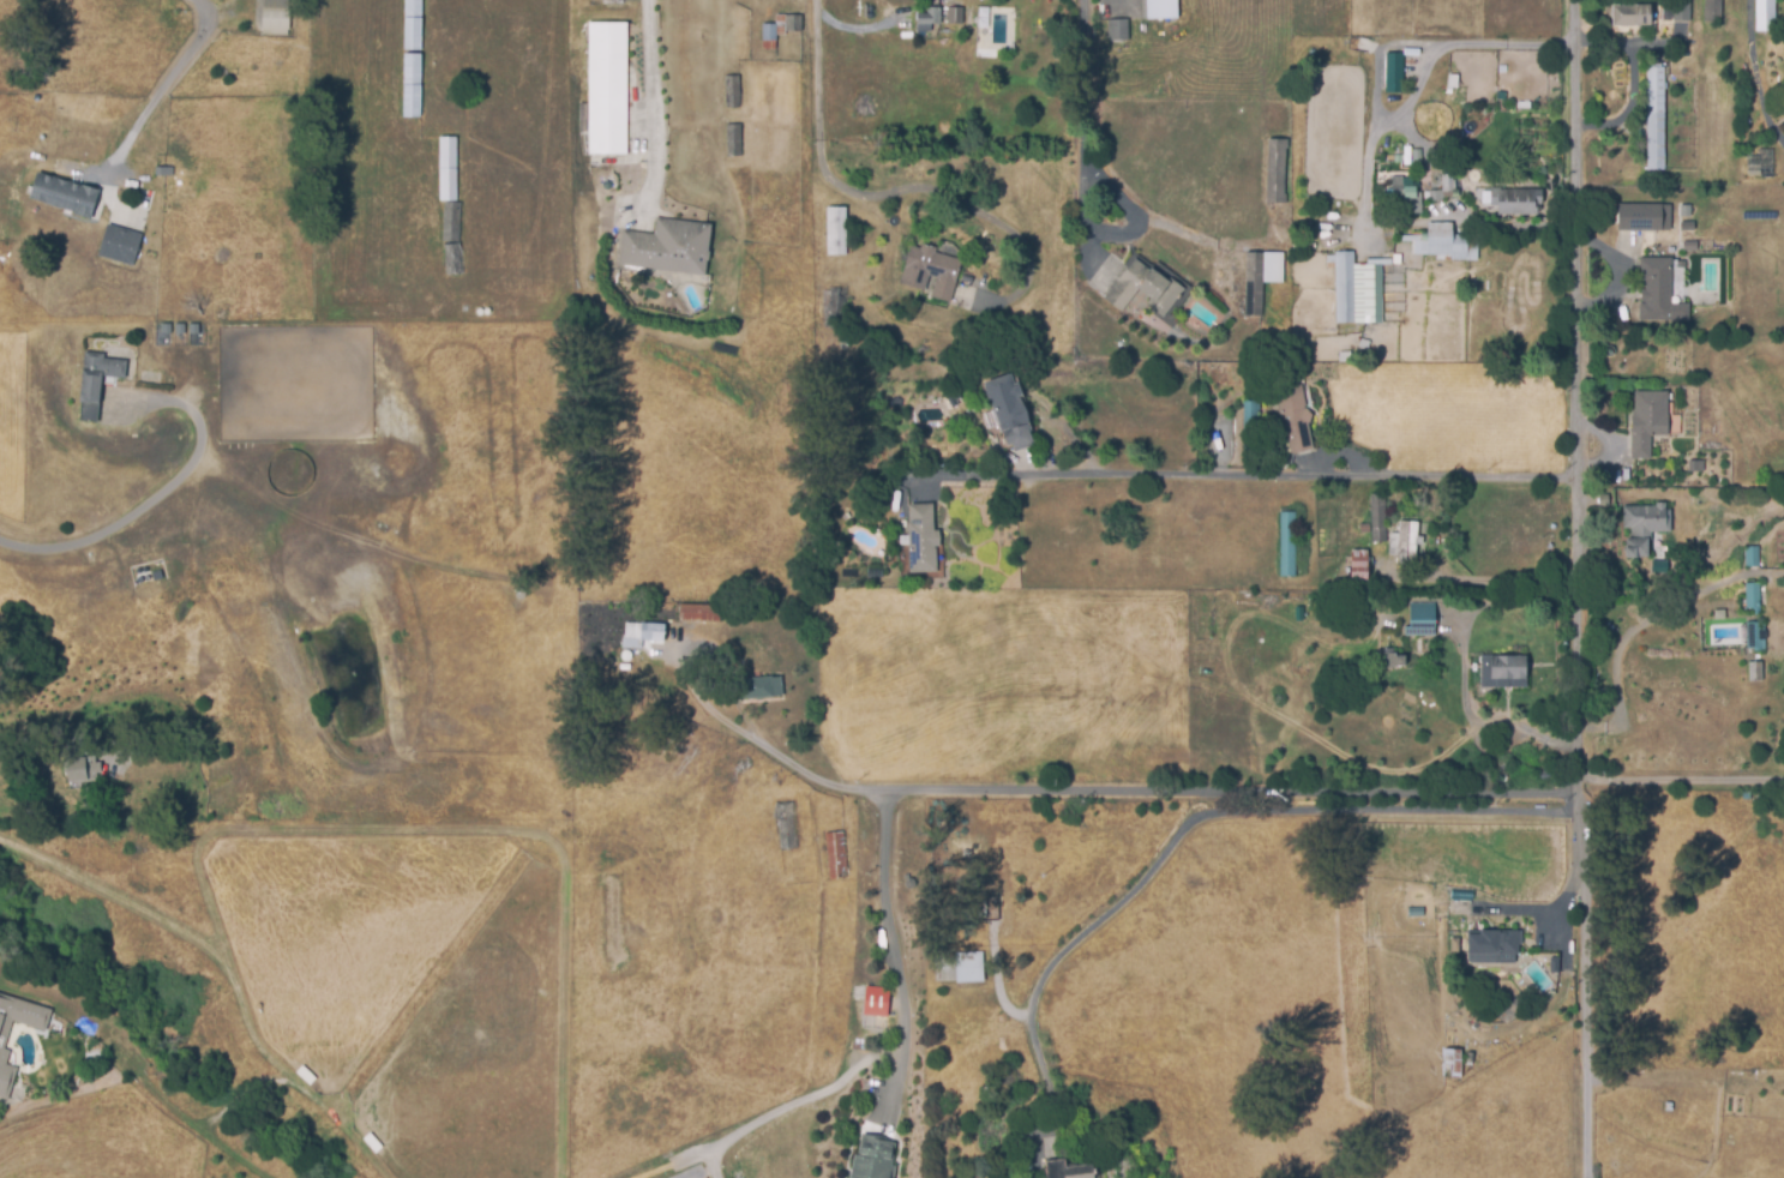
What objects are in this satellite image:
building: (1163, 10)
building: (1712, 10)
building: (1681, 11)
building: (1666, 12)
building: (1630, 13)
building: (1764, 14)
building: (275, 18)
building: (937, 19)
building: (781, 28)
building: (1117, 31)
road: (1392, 47)
building: (410, 59)
road: (1752, 64)
building: (1393, 74)
road: (172, 77)
building: (606, 89)
building: (732, 92)
road: (651, 95)
road: (1410, 98)
building: (1656, 118)
building: (734, 142)
building: (1760, 161)
building: (446, 170)
building: (1275, 172)
road: (895, 191)
building: (65, 197)
building: (1402, 198)
building: (1521, 202)
building: (1639, 216)
building: (451, 222)
building: (834, 230)
building: (1444, 245)
building: (120, 246)
building: (667, 248)
building: (450, 260)
building: (930, 275)
building: (1261, 278)
building: (1143, 290)
building: (1659, 290)
building: (1357, 293)
building: (96, 383)
building: (1009, 414)
building: (1295, 421)
building: (1647, 421)
building: (1249, 428)
road: (1267, 476)
building: (1377, 519)
road: (125, 521)
building: (1642, 529)
building: (921, 540)
building: (1405, 545)
building: (1287, 546)
building: (1753, 555)
building: (1358, 567)
road: (1581, 589)
building: (1754, 596)
building: (699, 613)
road: (1645, 620)
building: (1420, 621)
building: (650, 632)
building: (1756, 636)
building: (1393, 663)
building: (1504, 671)
building: (1756, 671)
building: (758, 690)
road: (713, 710)
road: (1483, 722)
road: (29, 756)
building: (73, 776)
road: (1684, 781)
road: (1173, 791)
road: (1207, 813)
building: (787, 827)
building: (835, 858)
building: (1454, 948)
building: (1494, 951)
road: (896, 958)
building: (957, 969)
building: (875, 1002)
building: (2, 1042)
building: (1452, 1068)
building: (875, 1159)
building: (1064, 1173)

